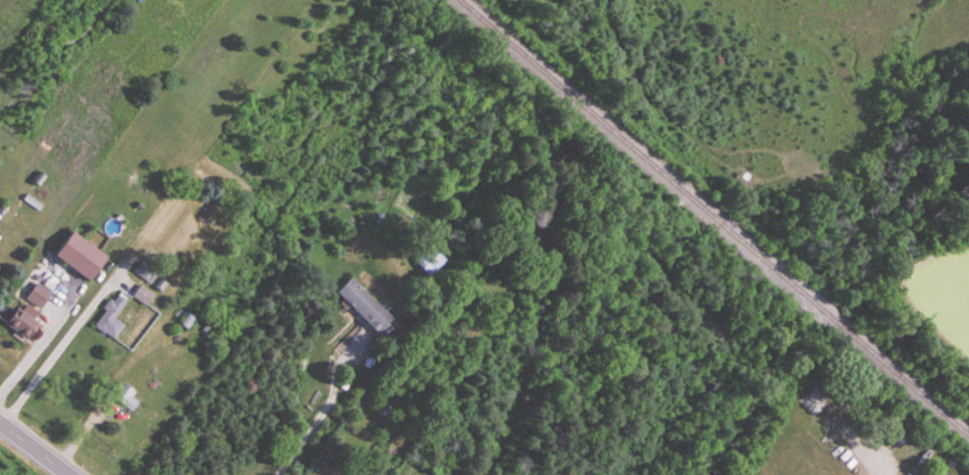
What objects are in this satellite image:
crop: (547, 2)
railway: (525, 57)
crop: (776, 75)
building: (431, 260)
building: (147, 274)
railway: (781, 275)
building: (36, 293)
road: (903, 295)
building: (145, 296)
building: (365, 306)
building: (112, 319)
building: (22, 325)
road: (35, 346)
road: (56, 350)
building: (127, 398)
road: (321, 418)
road: (34, 449)

